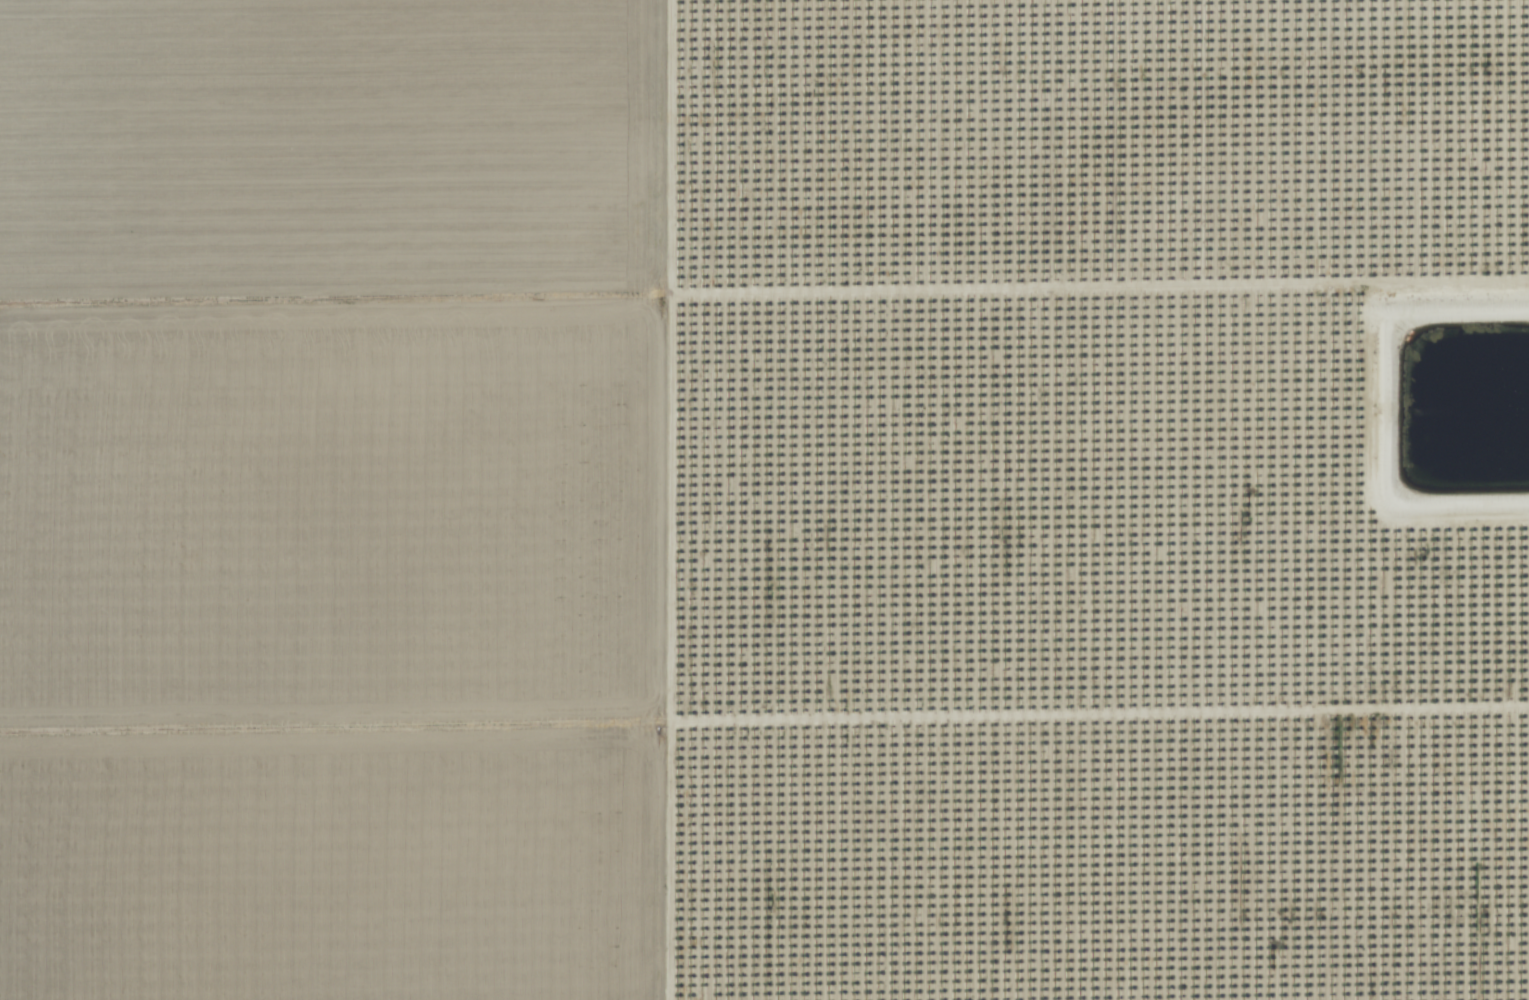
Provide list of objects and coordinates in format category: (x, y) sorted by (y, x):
road: (764, 695)

